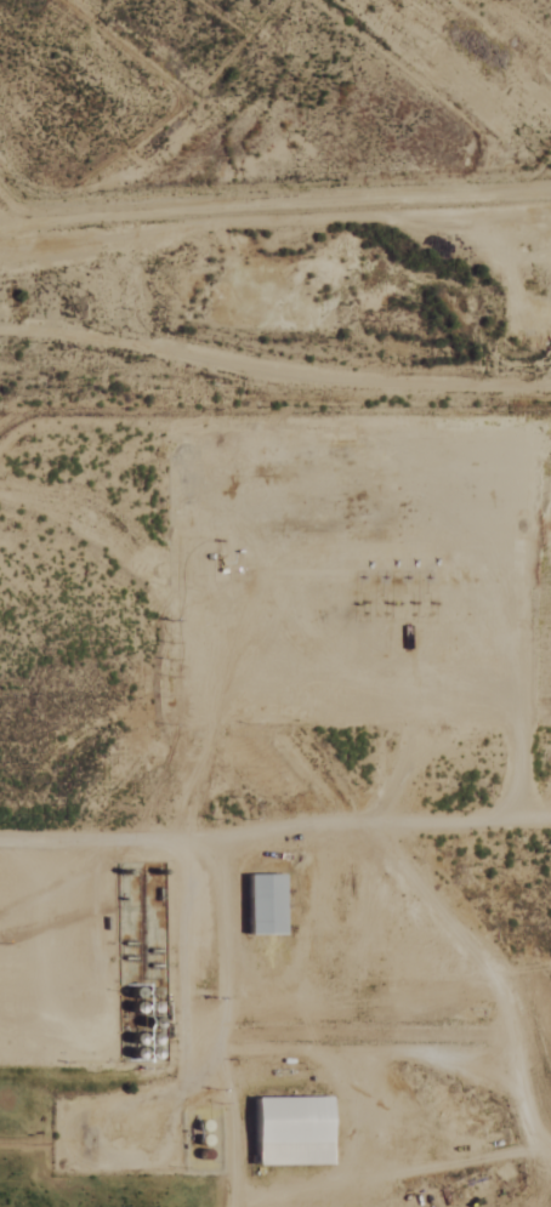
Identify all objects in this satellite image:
road: (302, 824)
building: (286, 1129)

